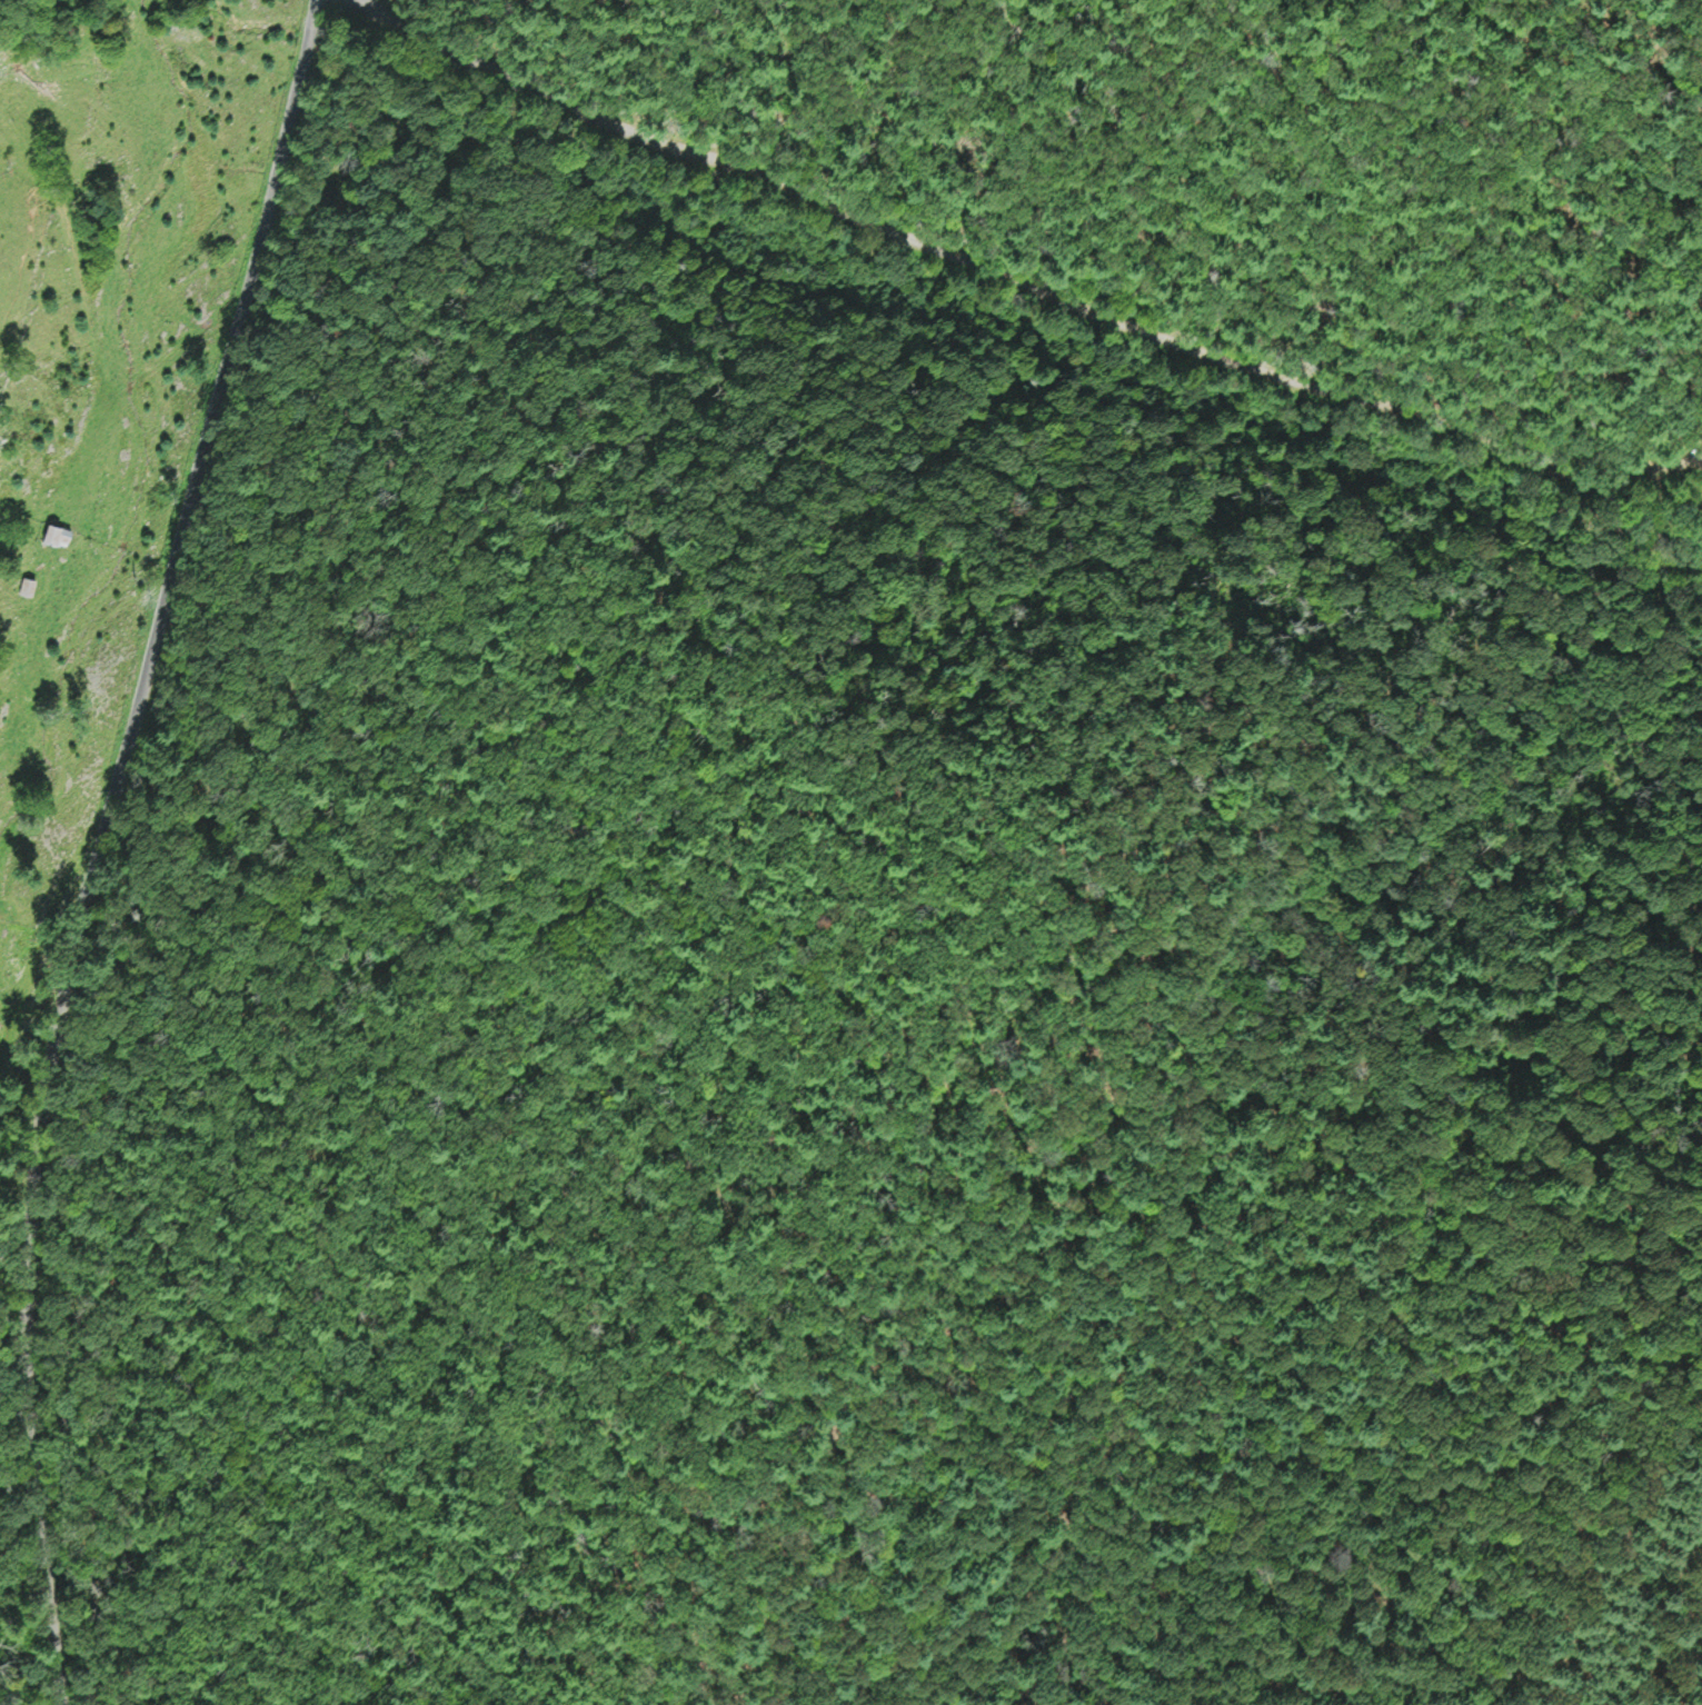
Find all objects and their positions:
road: (1021, 285)
road: (1680, 456)
building: (58, 531)
building: (29, 586)
road: (103, 844)

